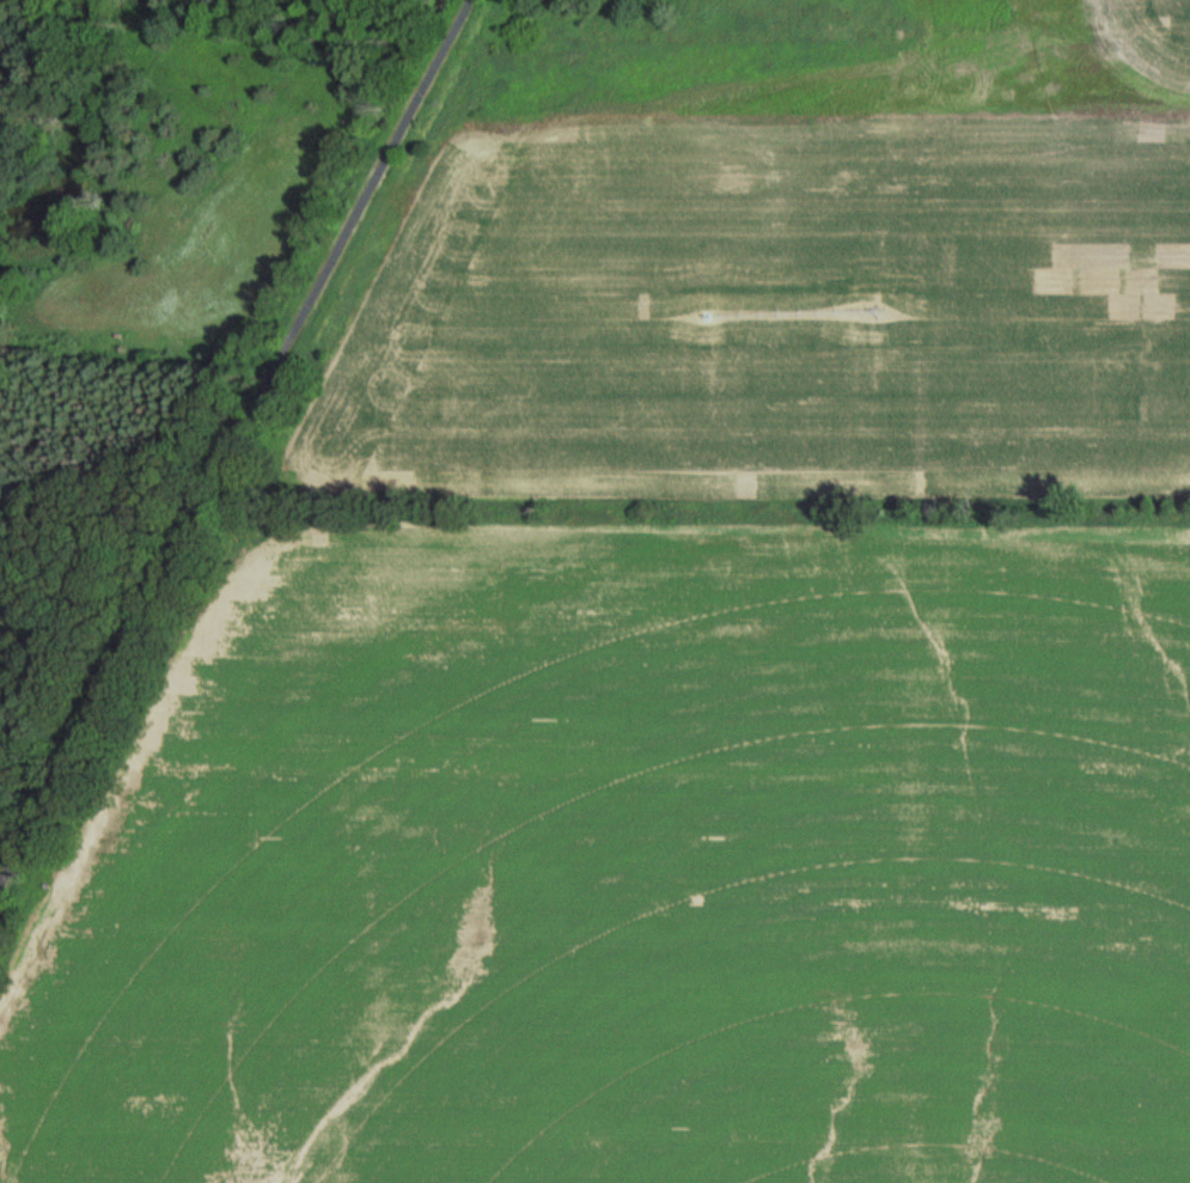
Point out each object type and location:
road: (228, 428)

